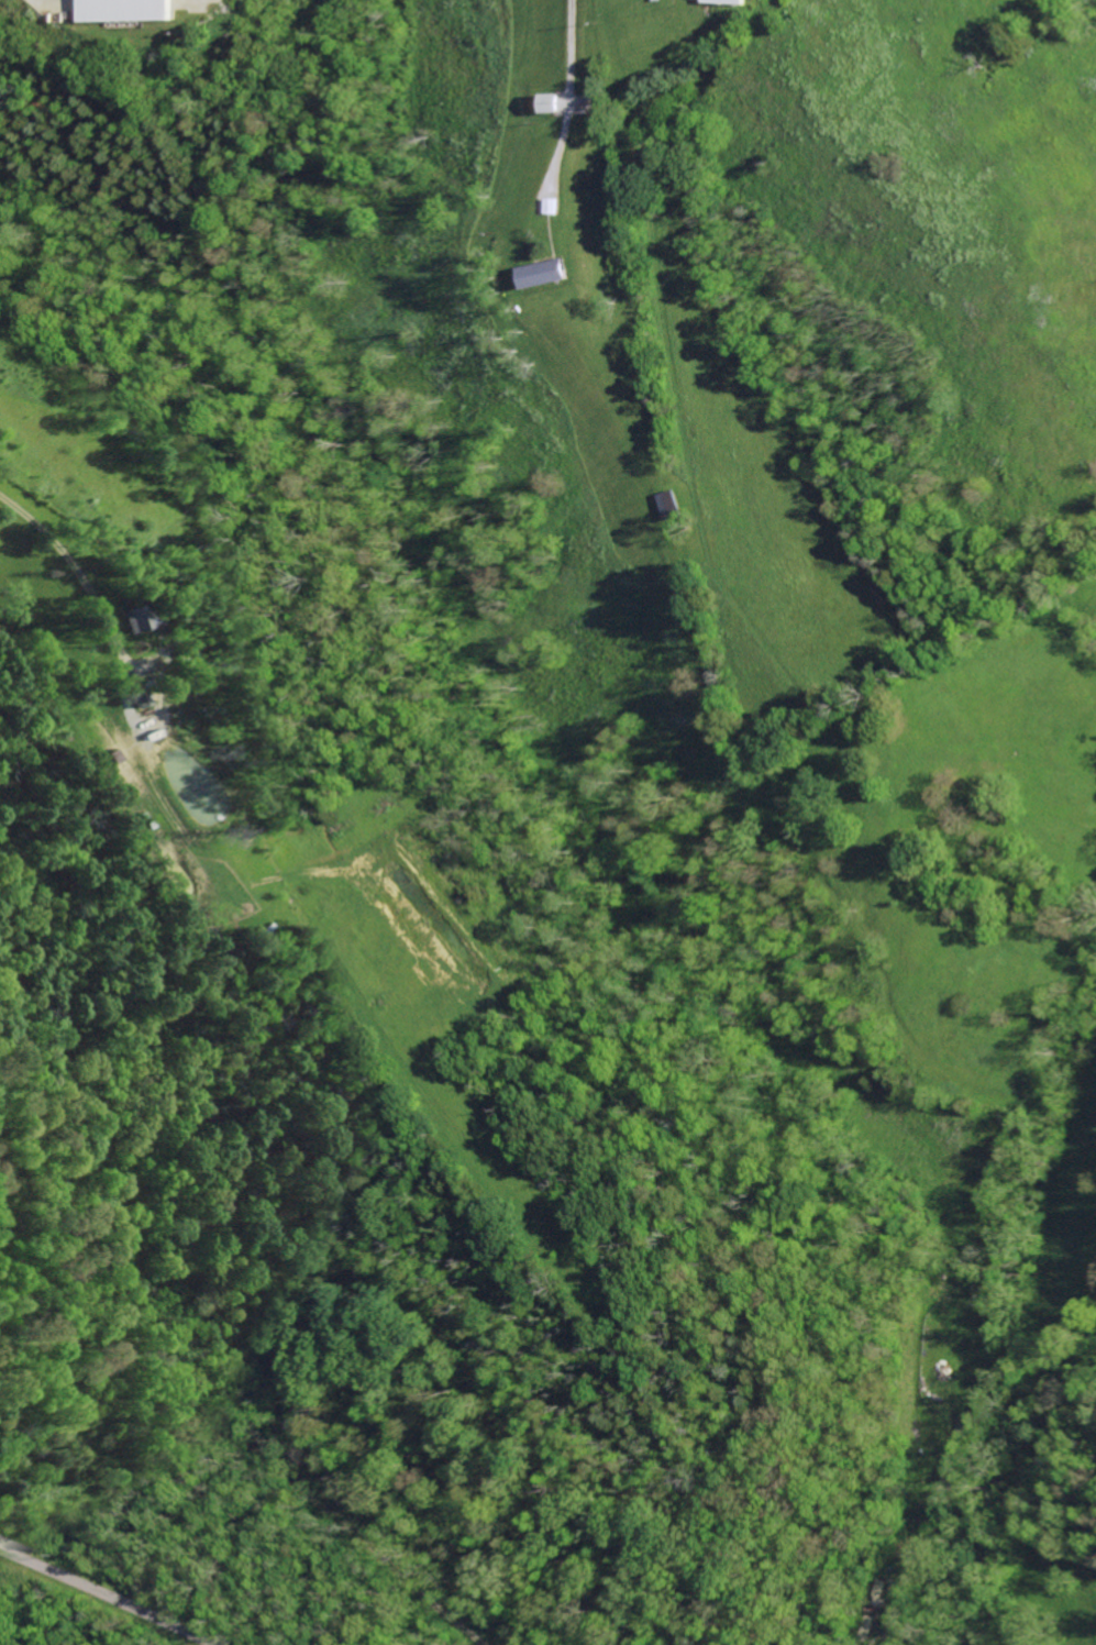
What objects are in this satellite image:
building: (731, 2)
building: (129, 10)
road: (572, 97)
building: (550, 103)
building: (546, 274)
building: (677, 505)
road: (65, 567)
building: (120, 620)
building: (128, 711)
road: (383, 1559)
road: (109, 1593)

